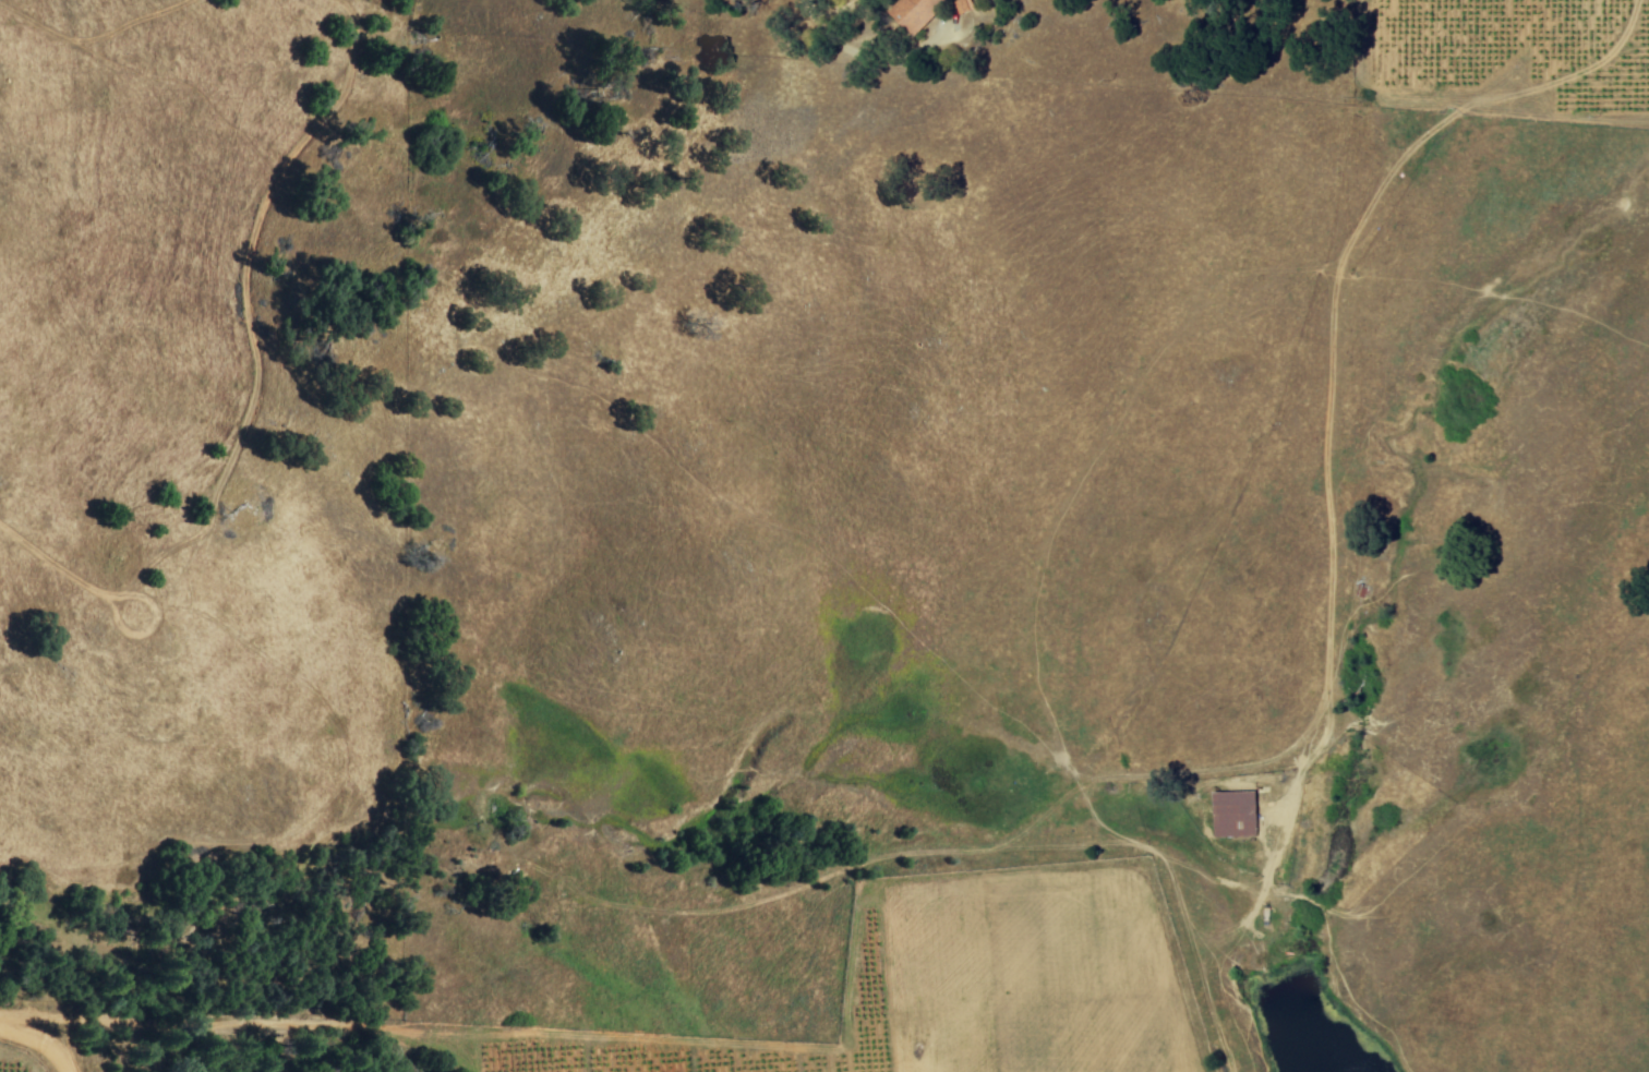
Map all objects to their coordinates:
road: (1335, 276)
building: (1235, 814)

